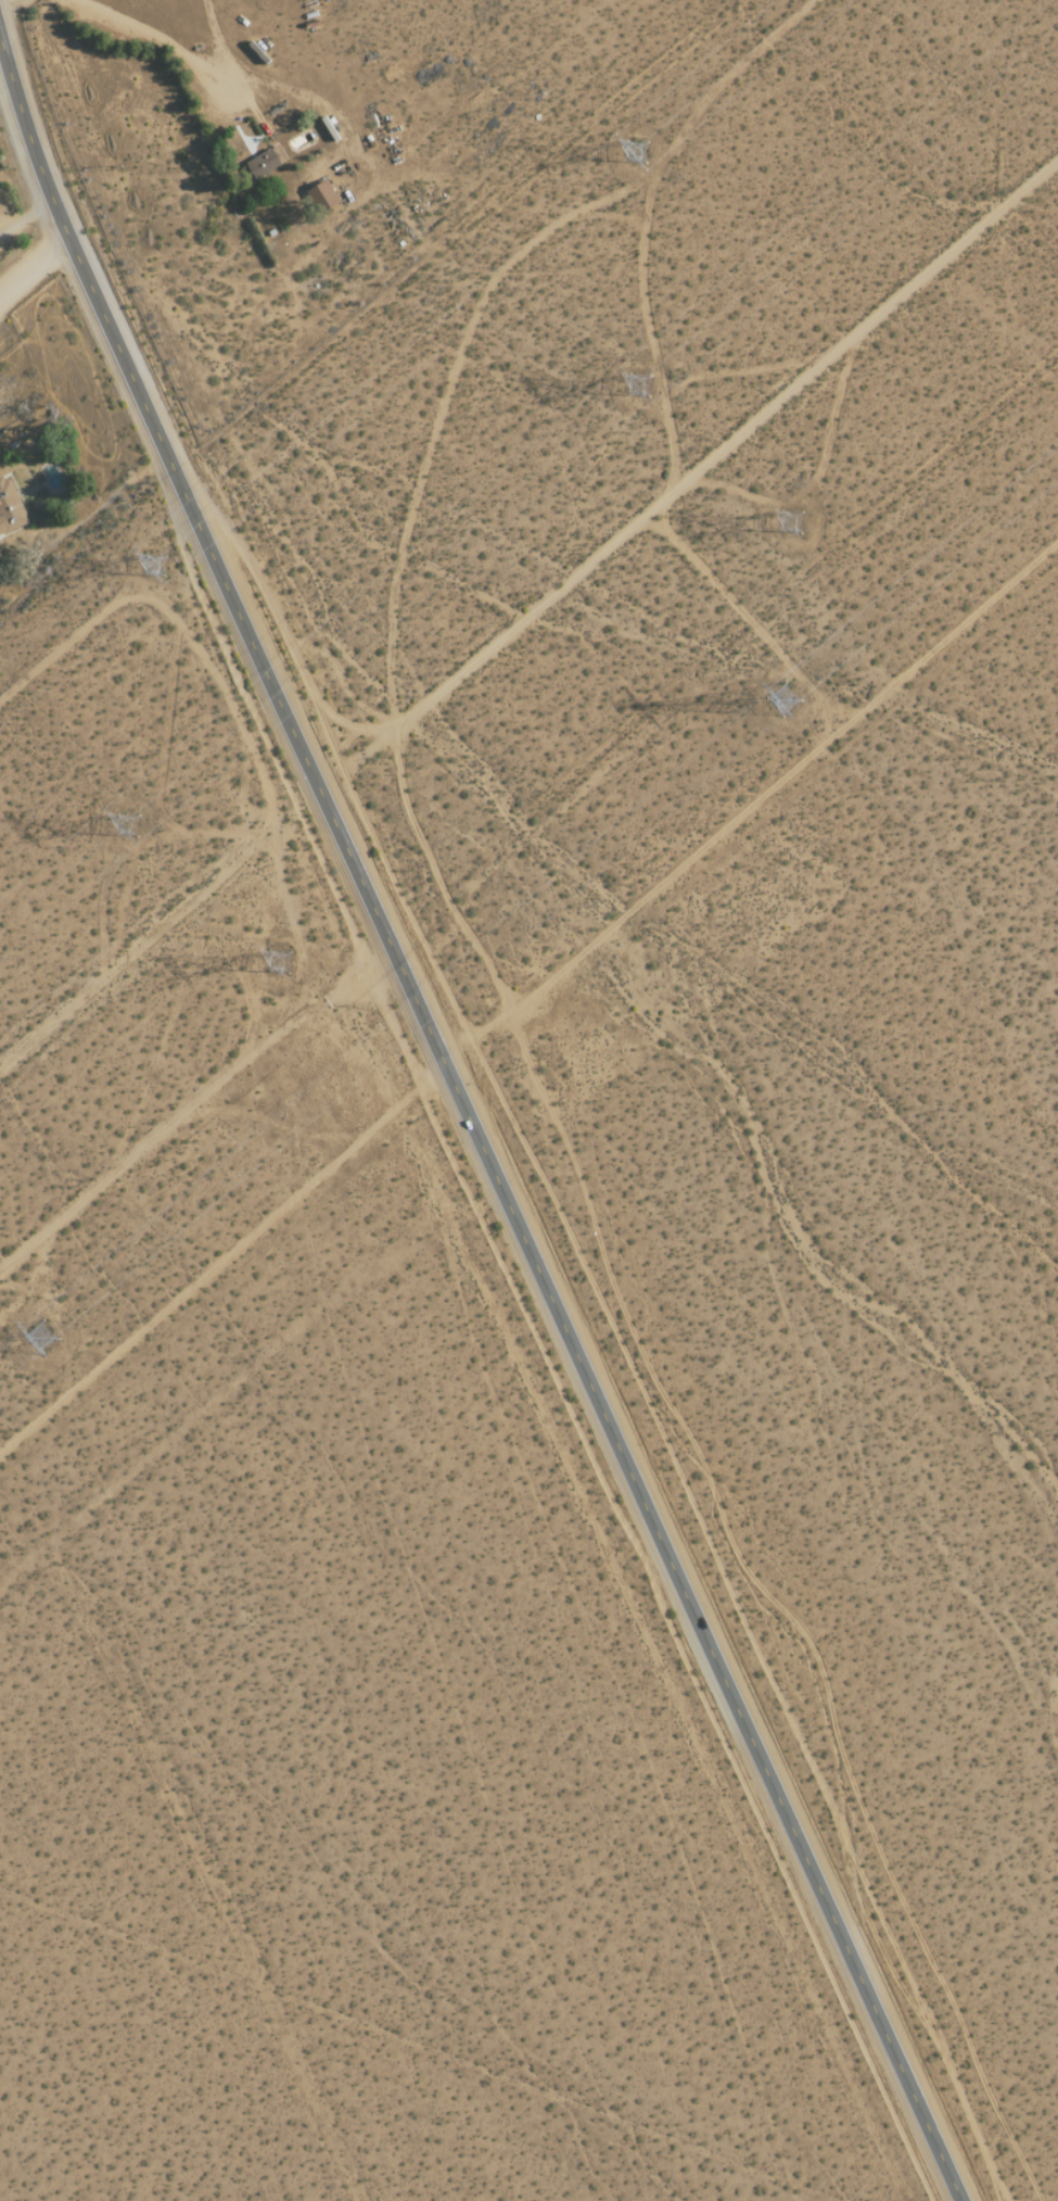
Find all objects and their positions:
road: (1, 47)
power tower: (642, 150)
building: (263, 163)
building: (322, 197)
road: (34, 271)
power tower: (647, 380)
road: (149, 419)
road: (687, 480)
building: (10, 507)
road: (90, 518)
power tower: (803, 526)
power tower: (164, 562)
power tower: (795, 704)
power tower: (133, 830)
road: (379, 931)
road: (157, 932)
power tower: (289, 960)
road: (221, 1257)
power tower: (50, 1337)
road: (701, 1633)

